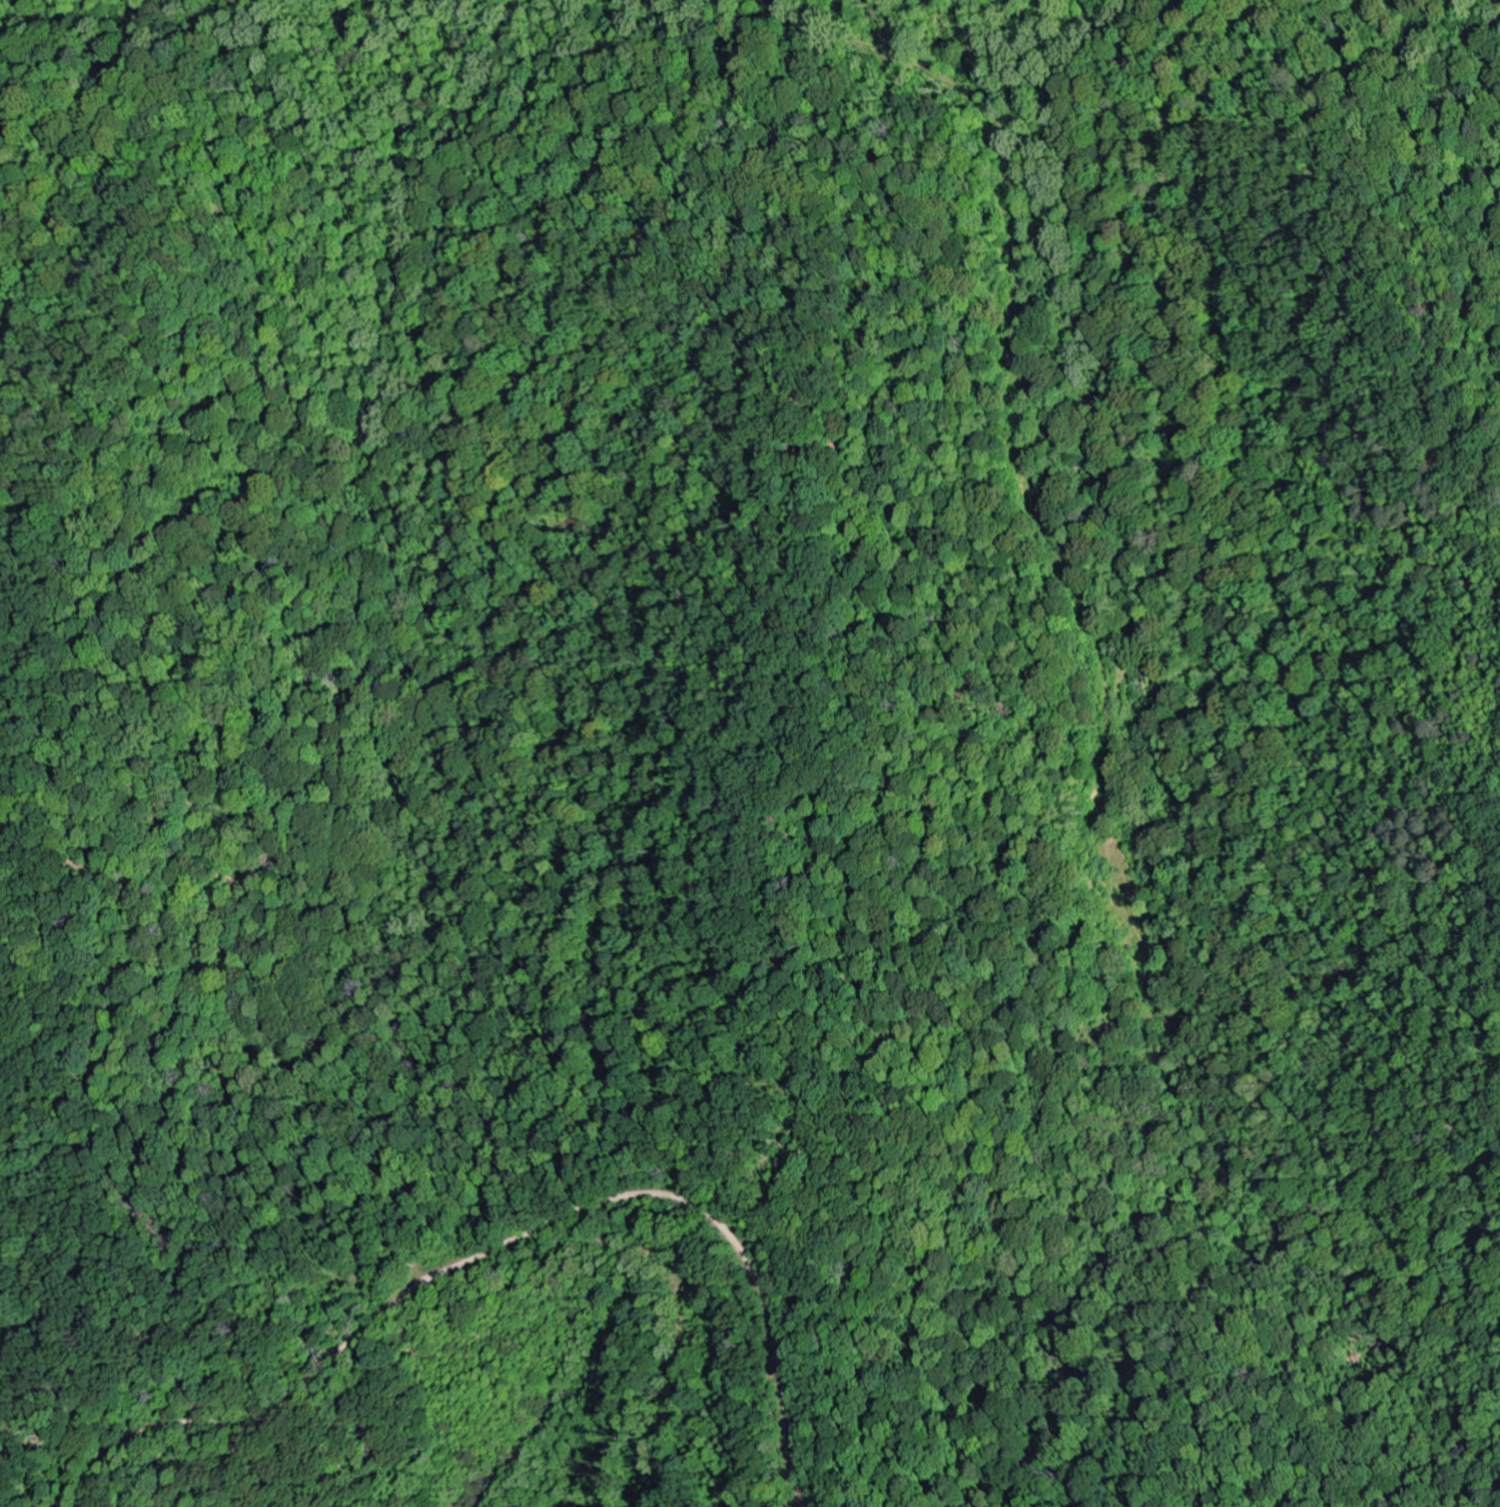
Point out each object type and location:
road: (501, 1249)

